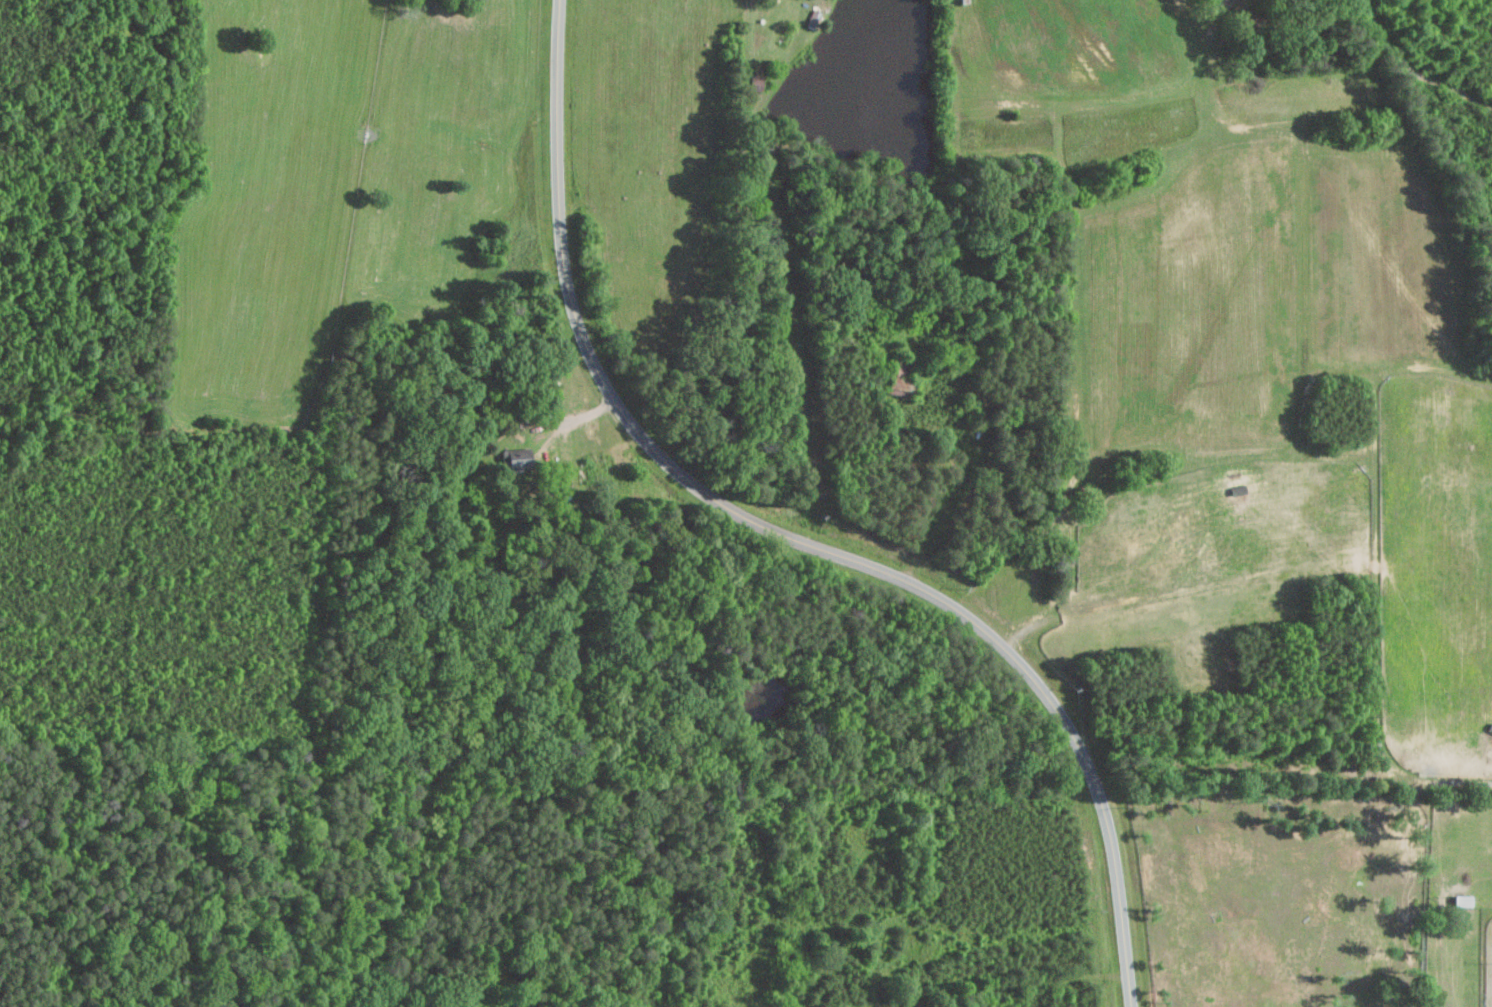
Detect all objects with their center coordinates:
building: (897, 386)
building: (514, 458)
road: (795, 531)

